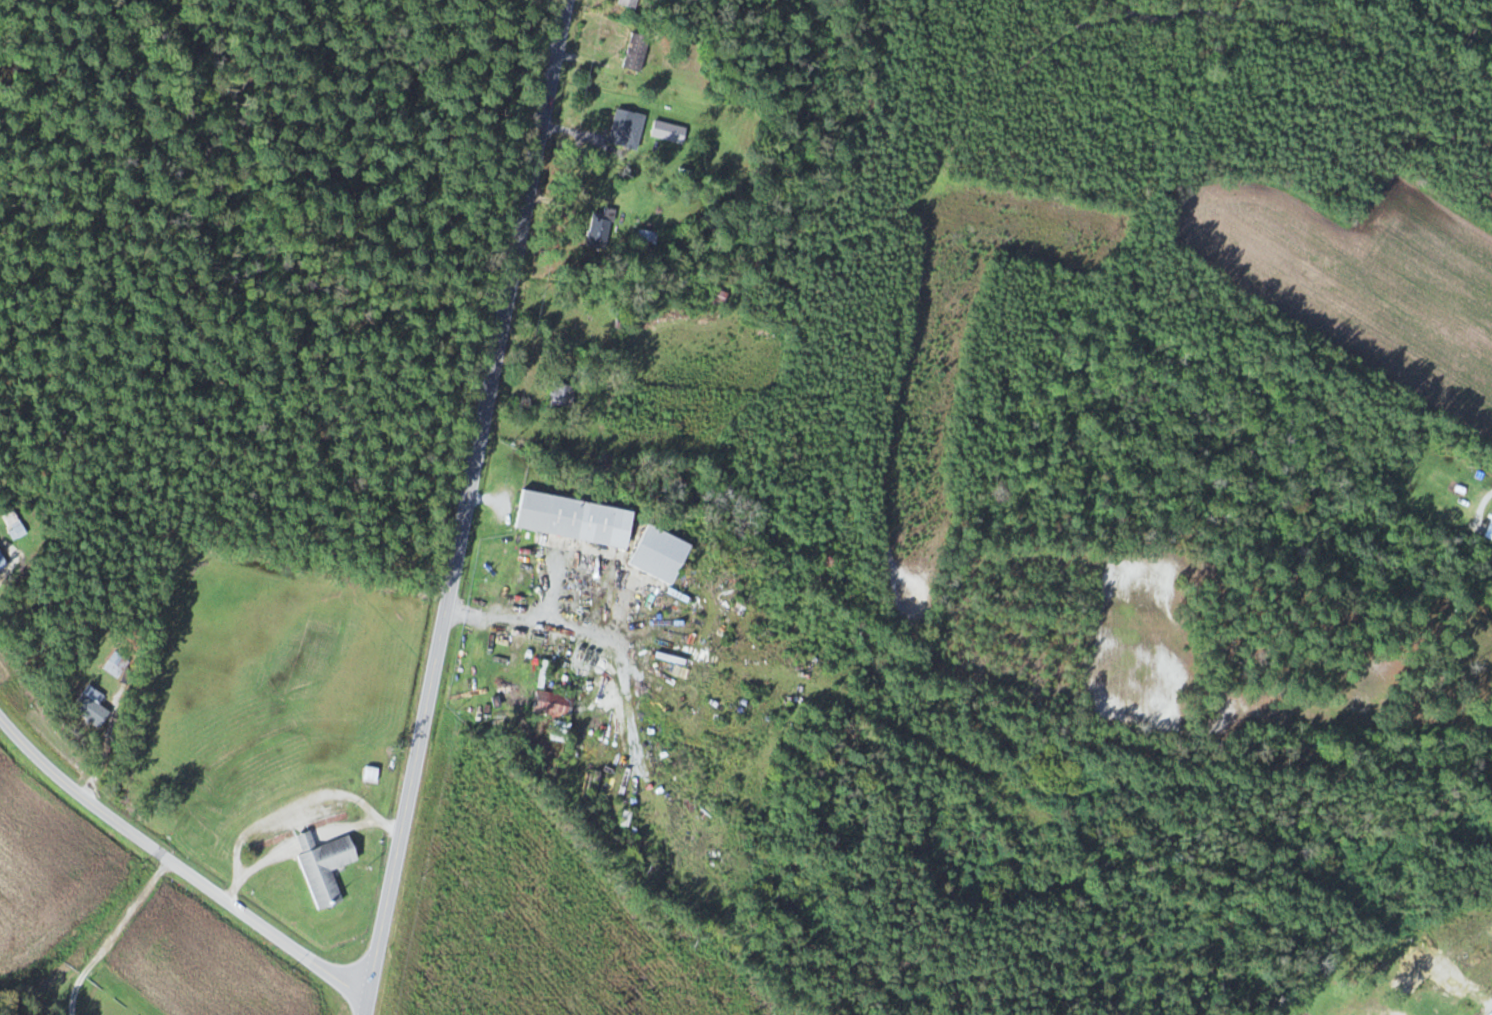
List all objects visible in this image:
building: (630, 5)
building: (637, 52)
building: (627, 129)
building: (669, 132)
building: (602, 228)
building: (647, 237)
building: (725, 295)
building: (563, 396)
road: (460, 507)
building: (576, 520)
building: (661, 555)
building: (528, 575)
building: (116, 664)
building: (555, 704)
building: (92, 707)
building: (373, 775)
road: (176, 866)
building: (326, 868)
building: (1479, 949)
road: (196, 961)
building: (1413, 980)
road: (1490, 1013)

